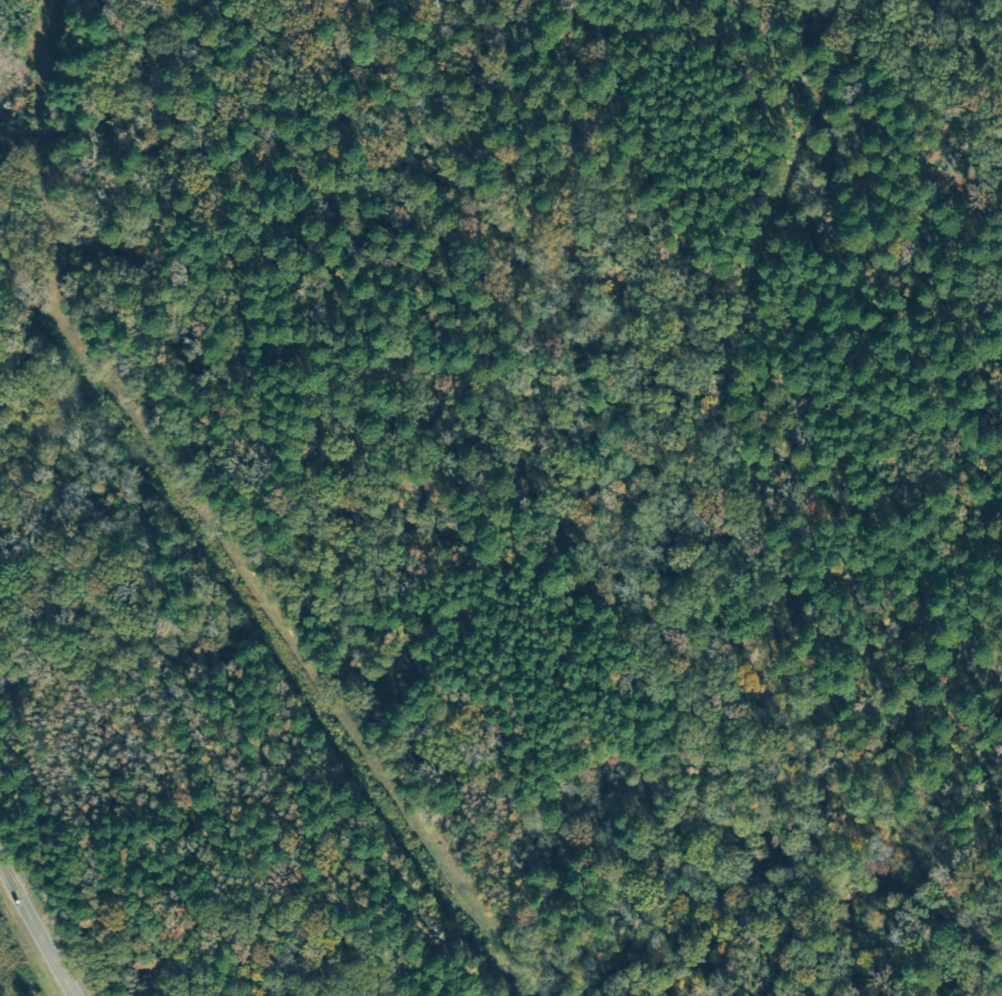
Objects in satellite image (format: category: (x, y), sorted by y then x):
road: (37, 927)

